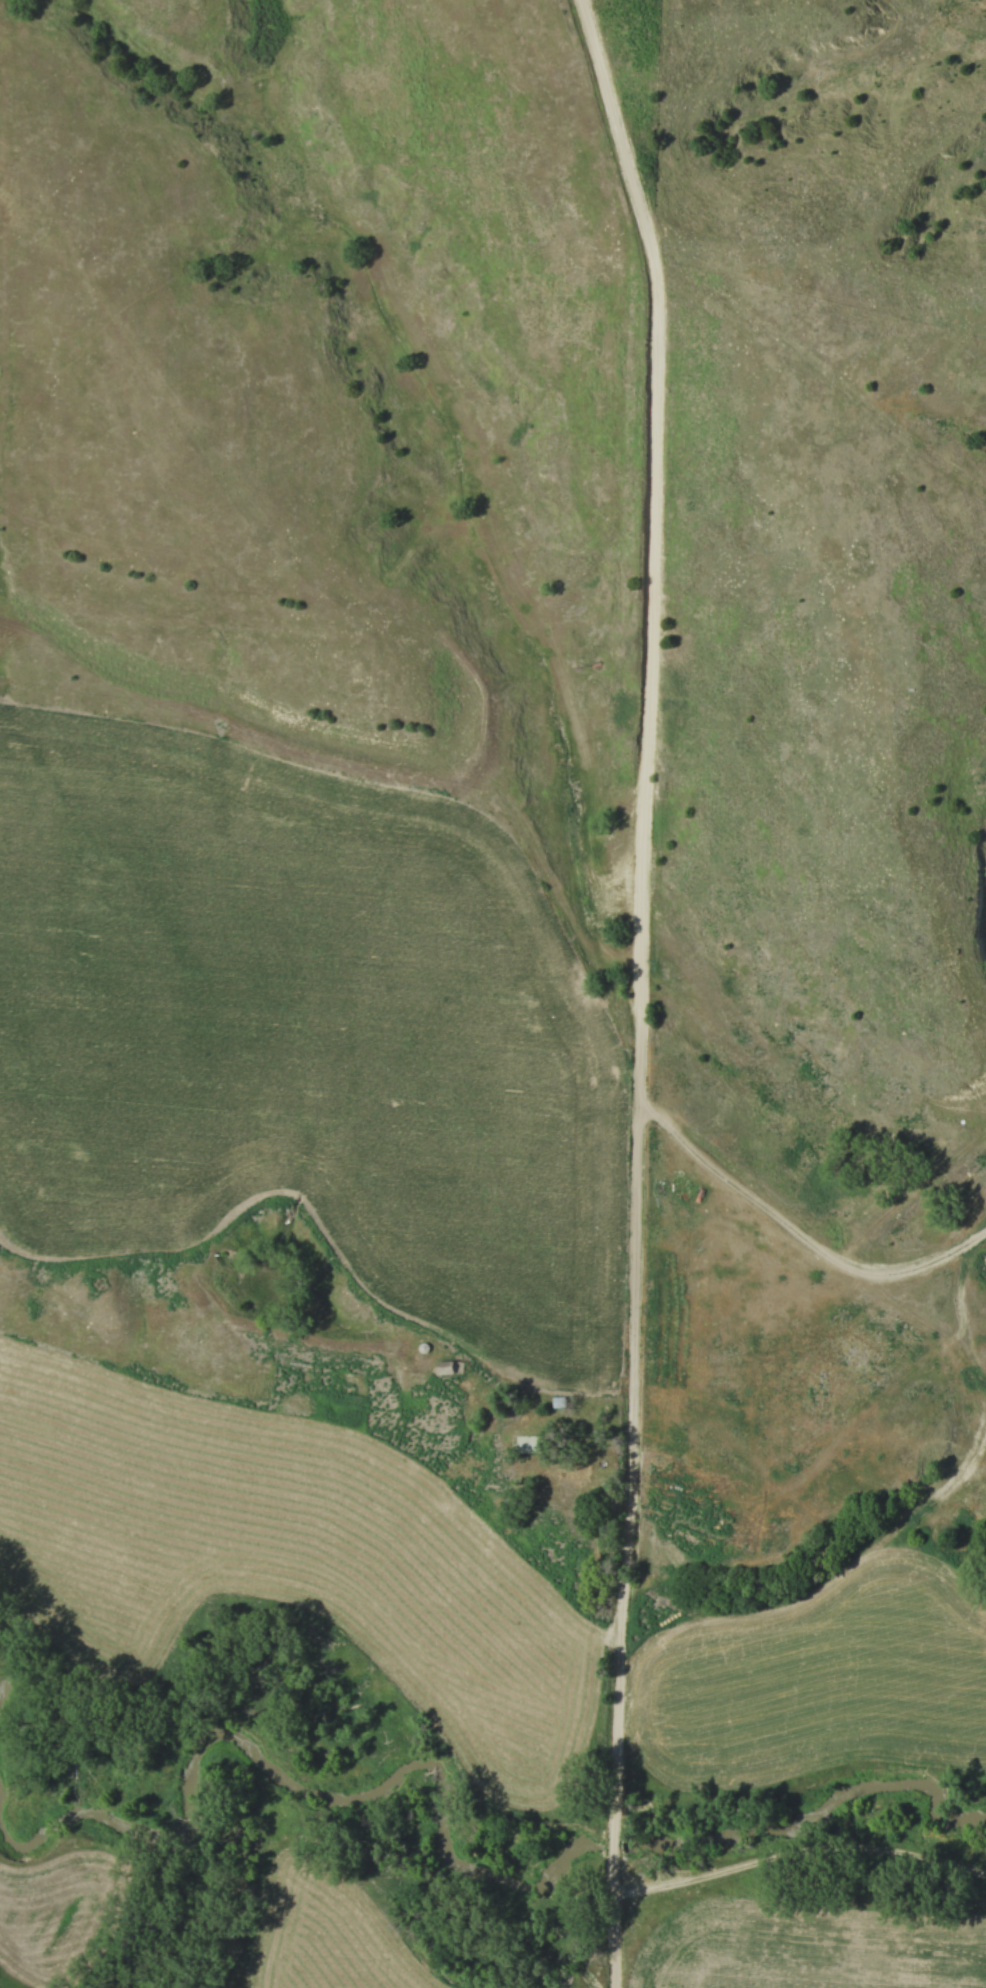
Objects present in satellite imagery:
crop: (303, 1034)
crop: (985, 1267)
building: (448, 1367)
building: (527, 1444)
crop: (832, 1680)

